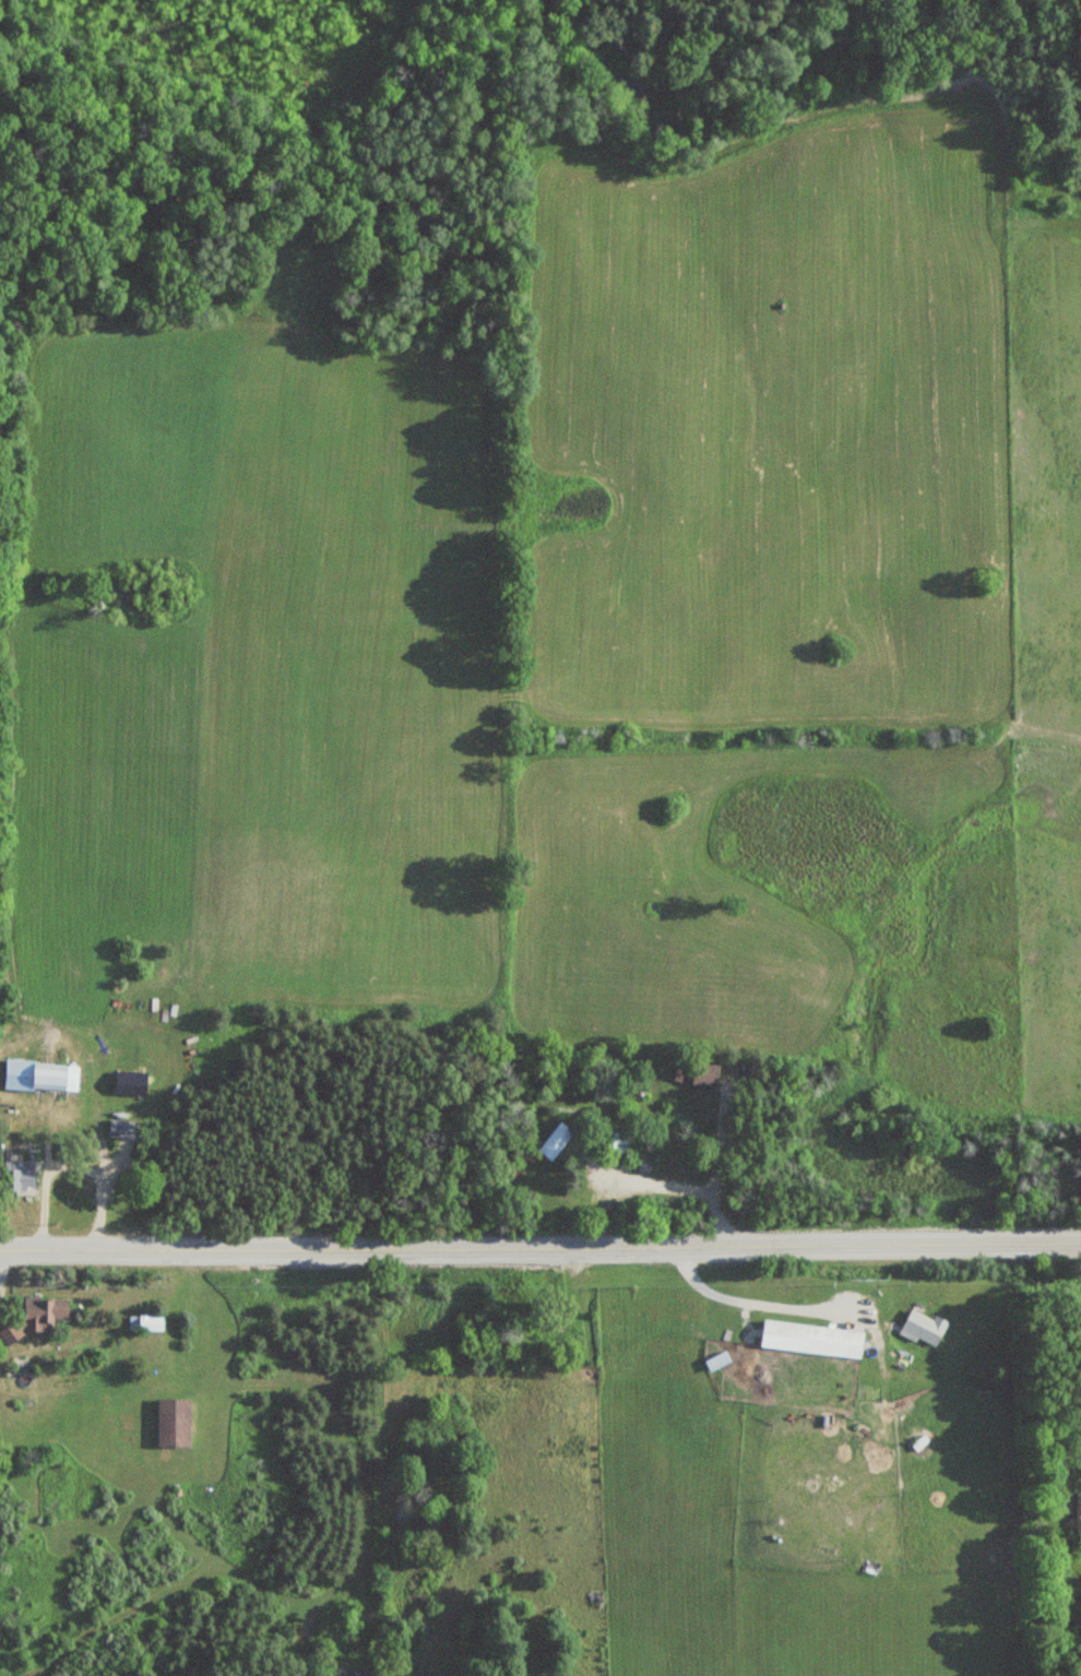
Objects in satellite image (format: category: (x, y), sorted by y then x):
building: (694, 1072)
building: (49, 1078)
building: (124, 1083)
building: (118, 1129)
building: (554, 1141)
building: (617, 1142)
building: (22, 1175)
road: (540, 1246)
building: (35, 1317)
building: (145, 1322)
building: (922, 1327)
building: (811, 1339)
building: (715, 1362)
building: (173, 1423)
building: (1078, 1511)

